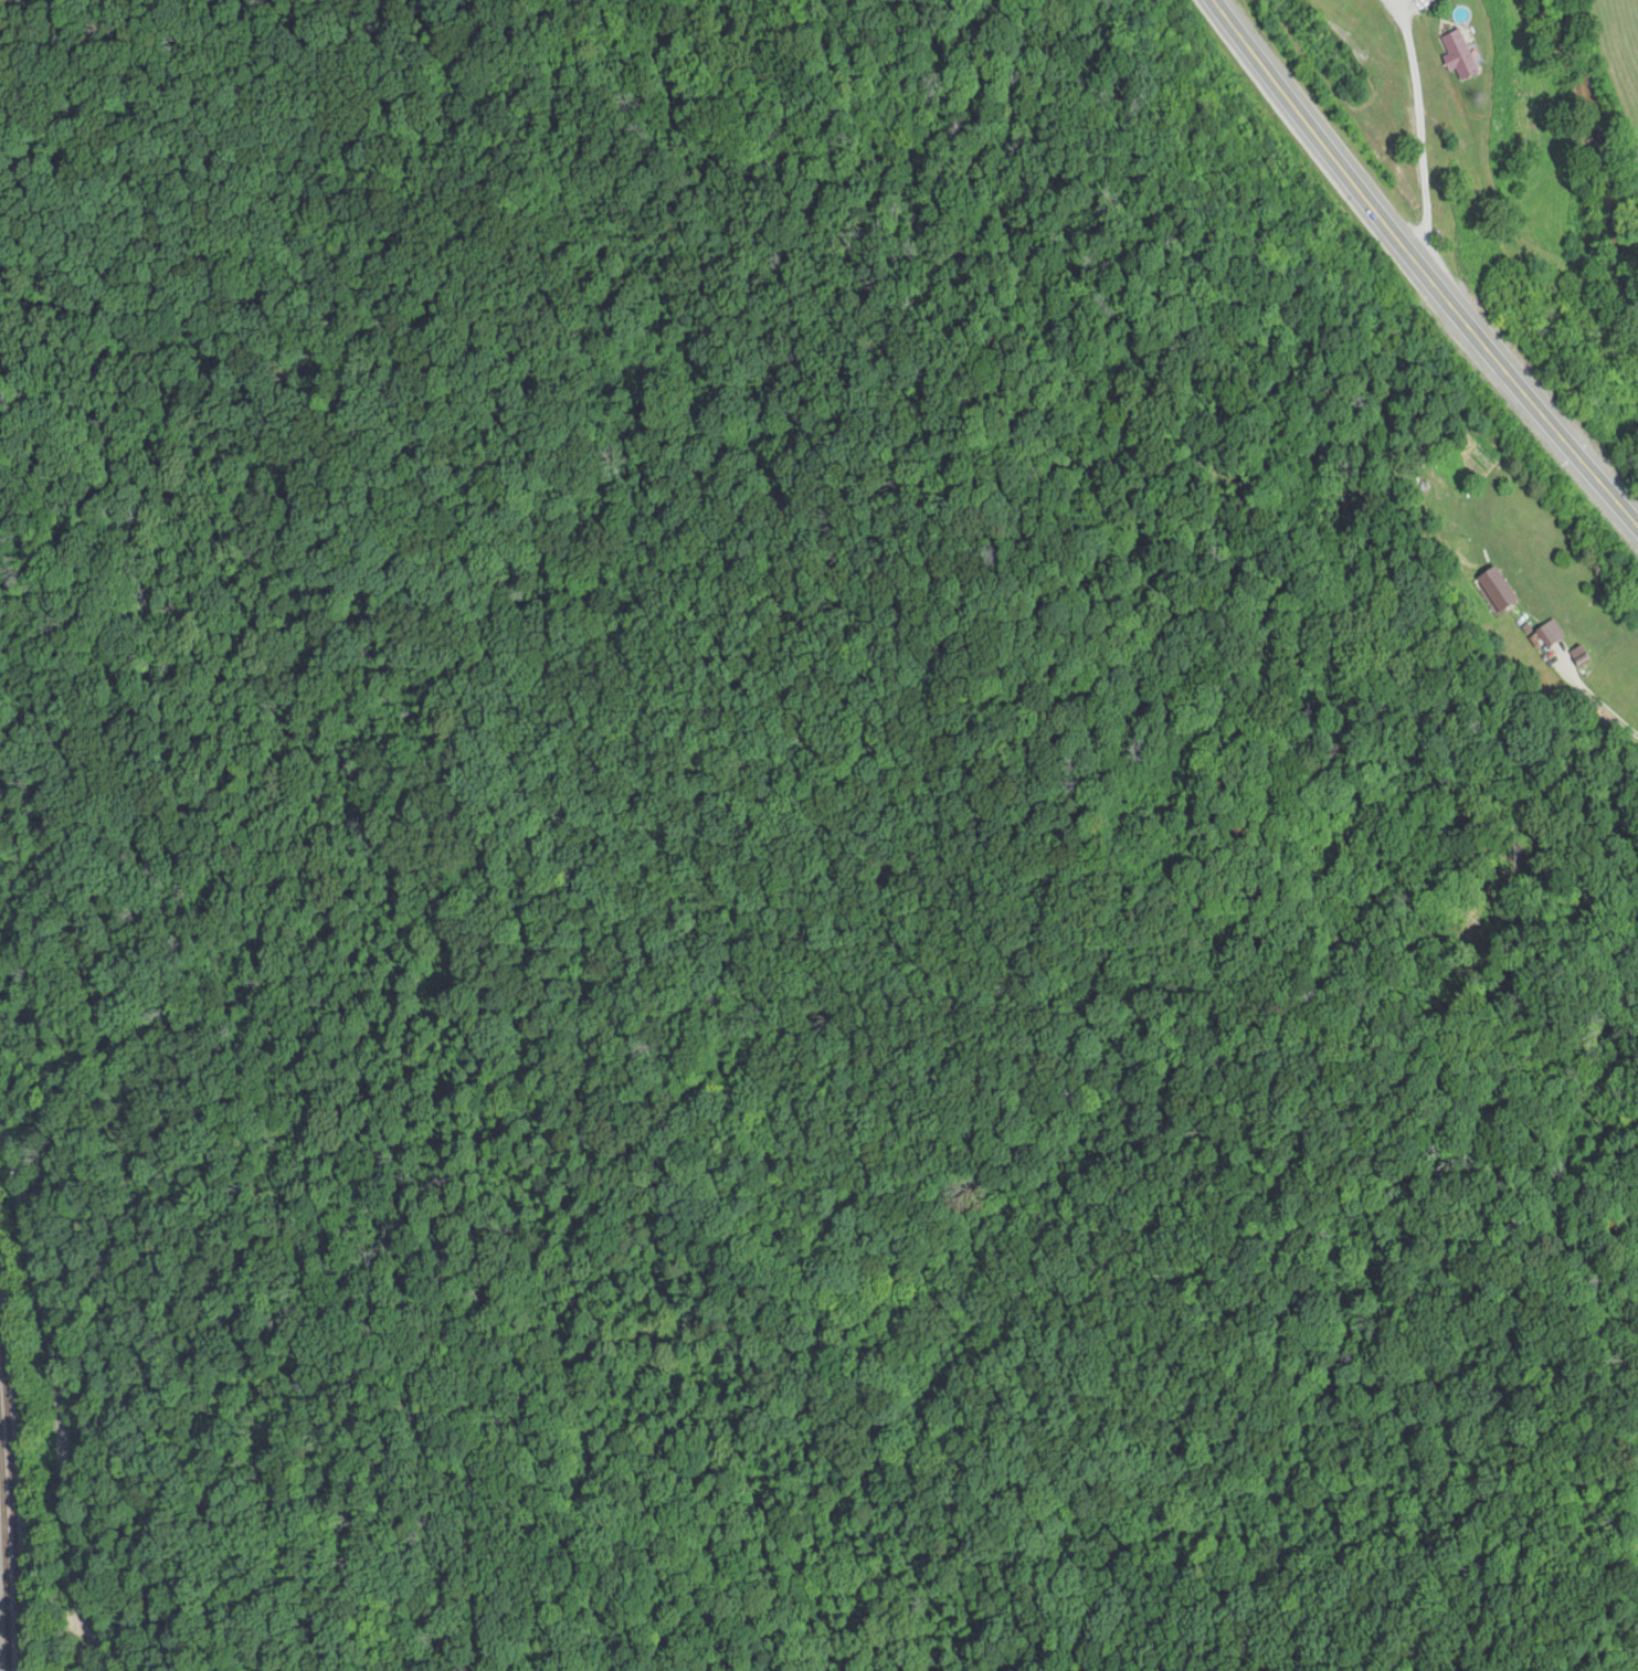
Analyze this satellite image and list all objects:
road: (1418, 269)
road: (231, 1219)
railway: (6, 1603)
railway: (1, 1652)

